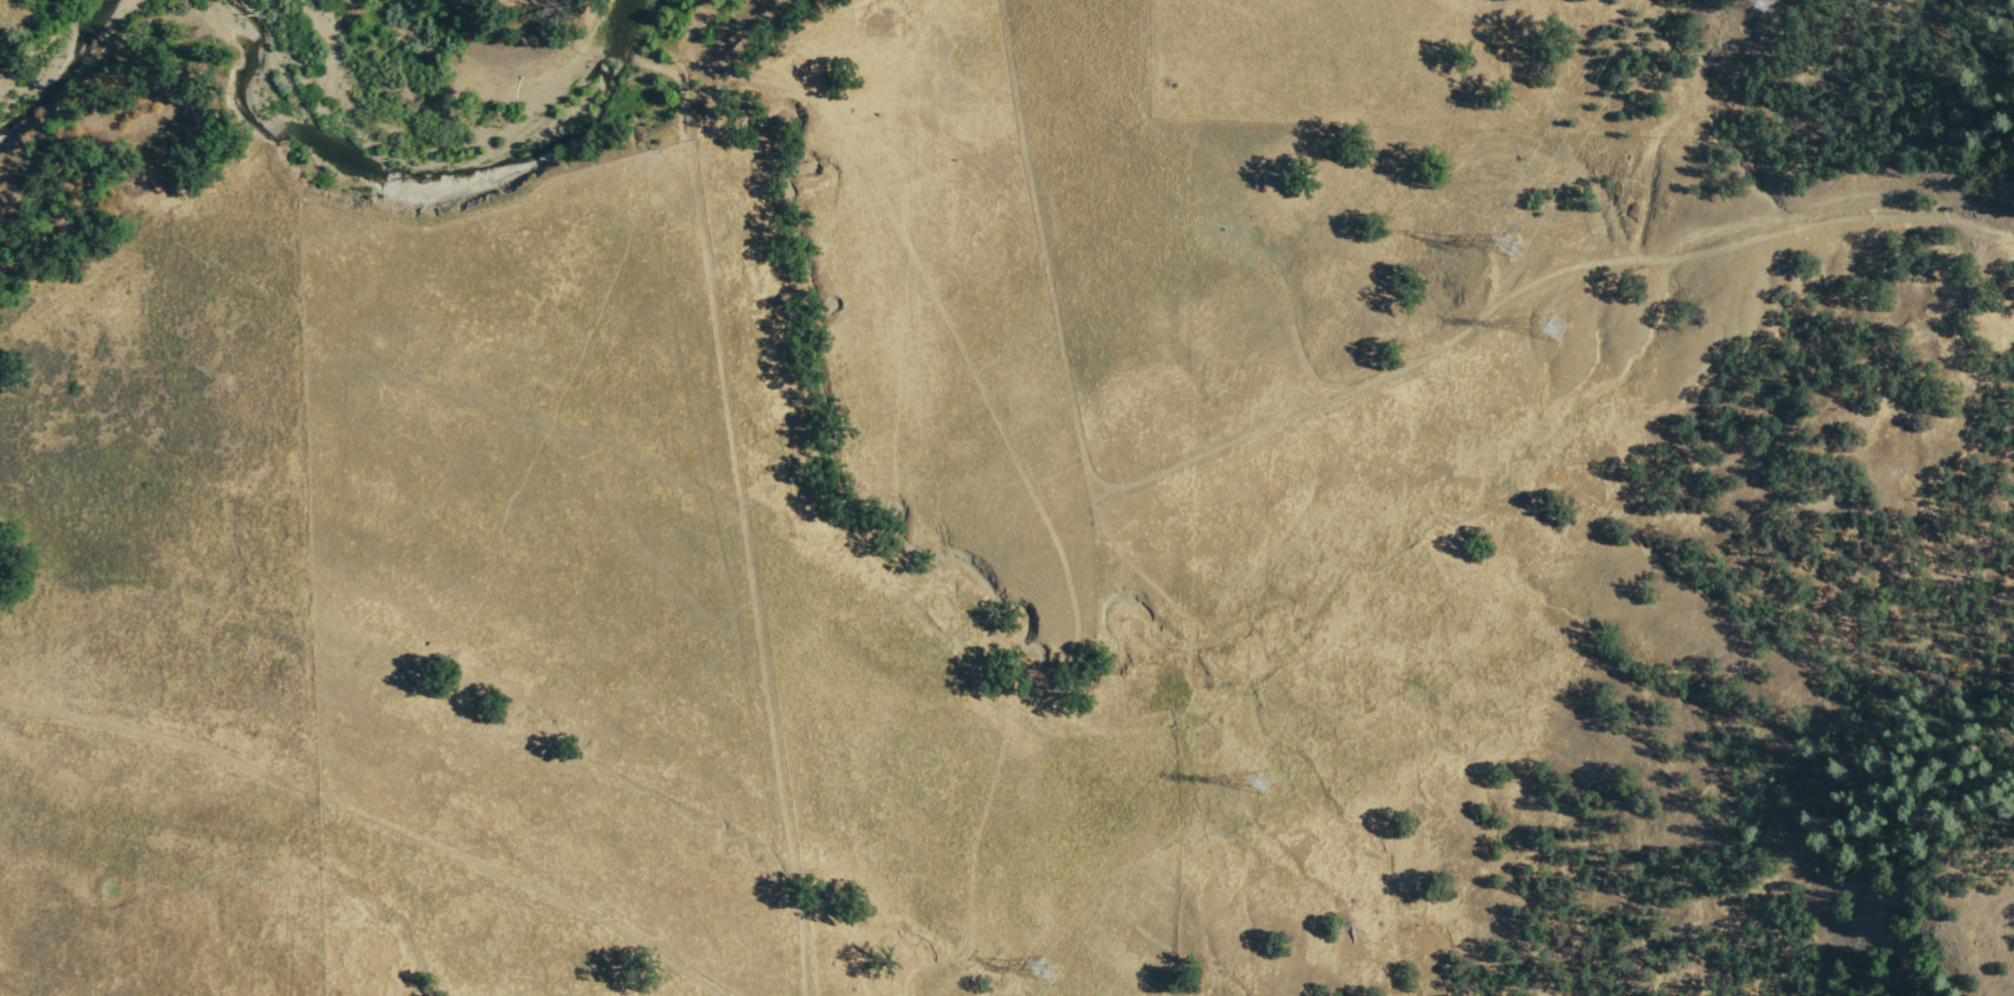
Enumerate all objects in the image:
power tower: (1760, 8)
river: (65, 55)
river: (461, 152)
power tower: (1507, 247)
road: (1050, 254)
power tower: (1551, 329)
power tower: (1257, 787)
power tower: (1039, 970)

